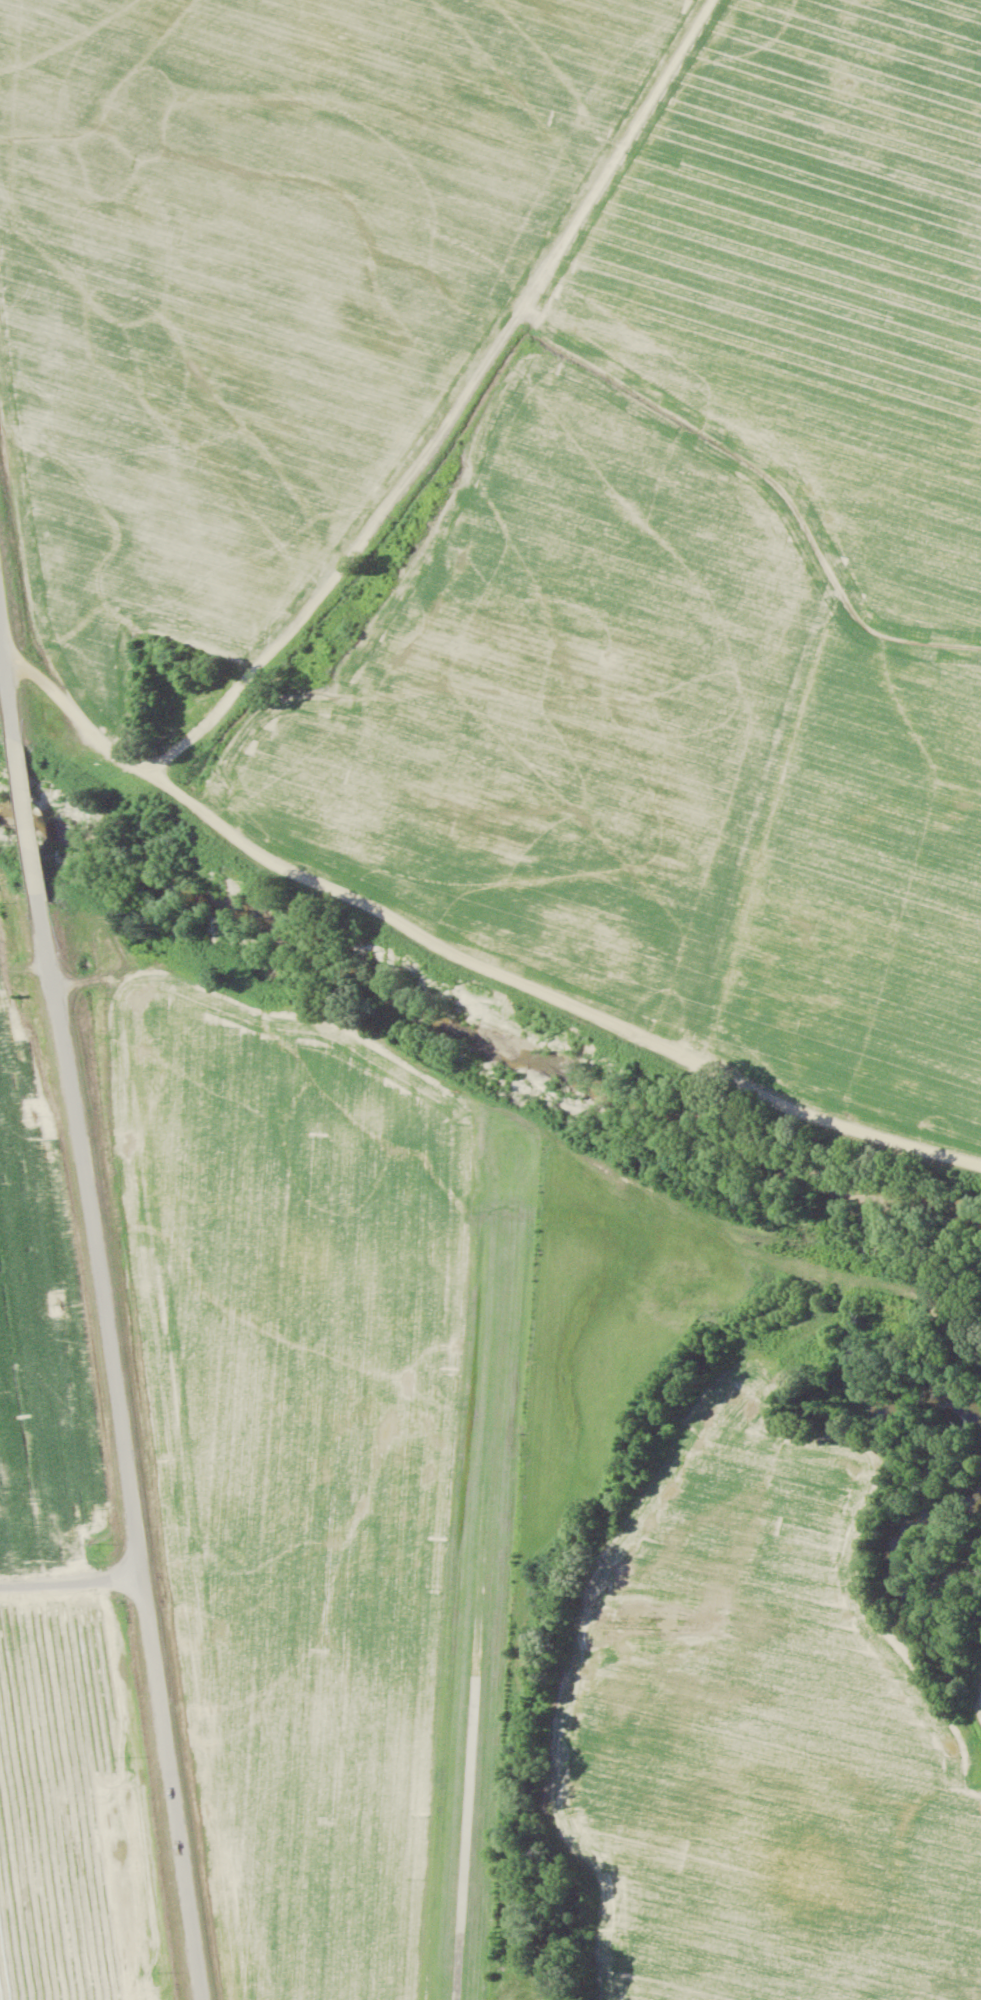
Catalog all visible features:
road: (424, 450)
building: (336, 641)
road: (106, 1293)
airport runway: (491, 1570)
road: (73, 1573)

